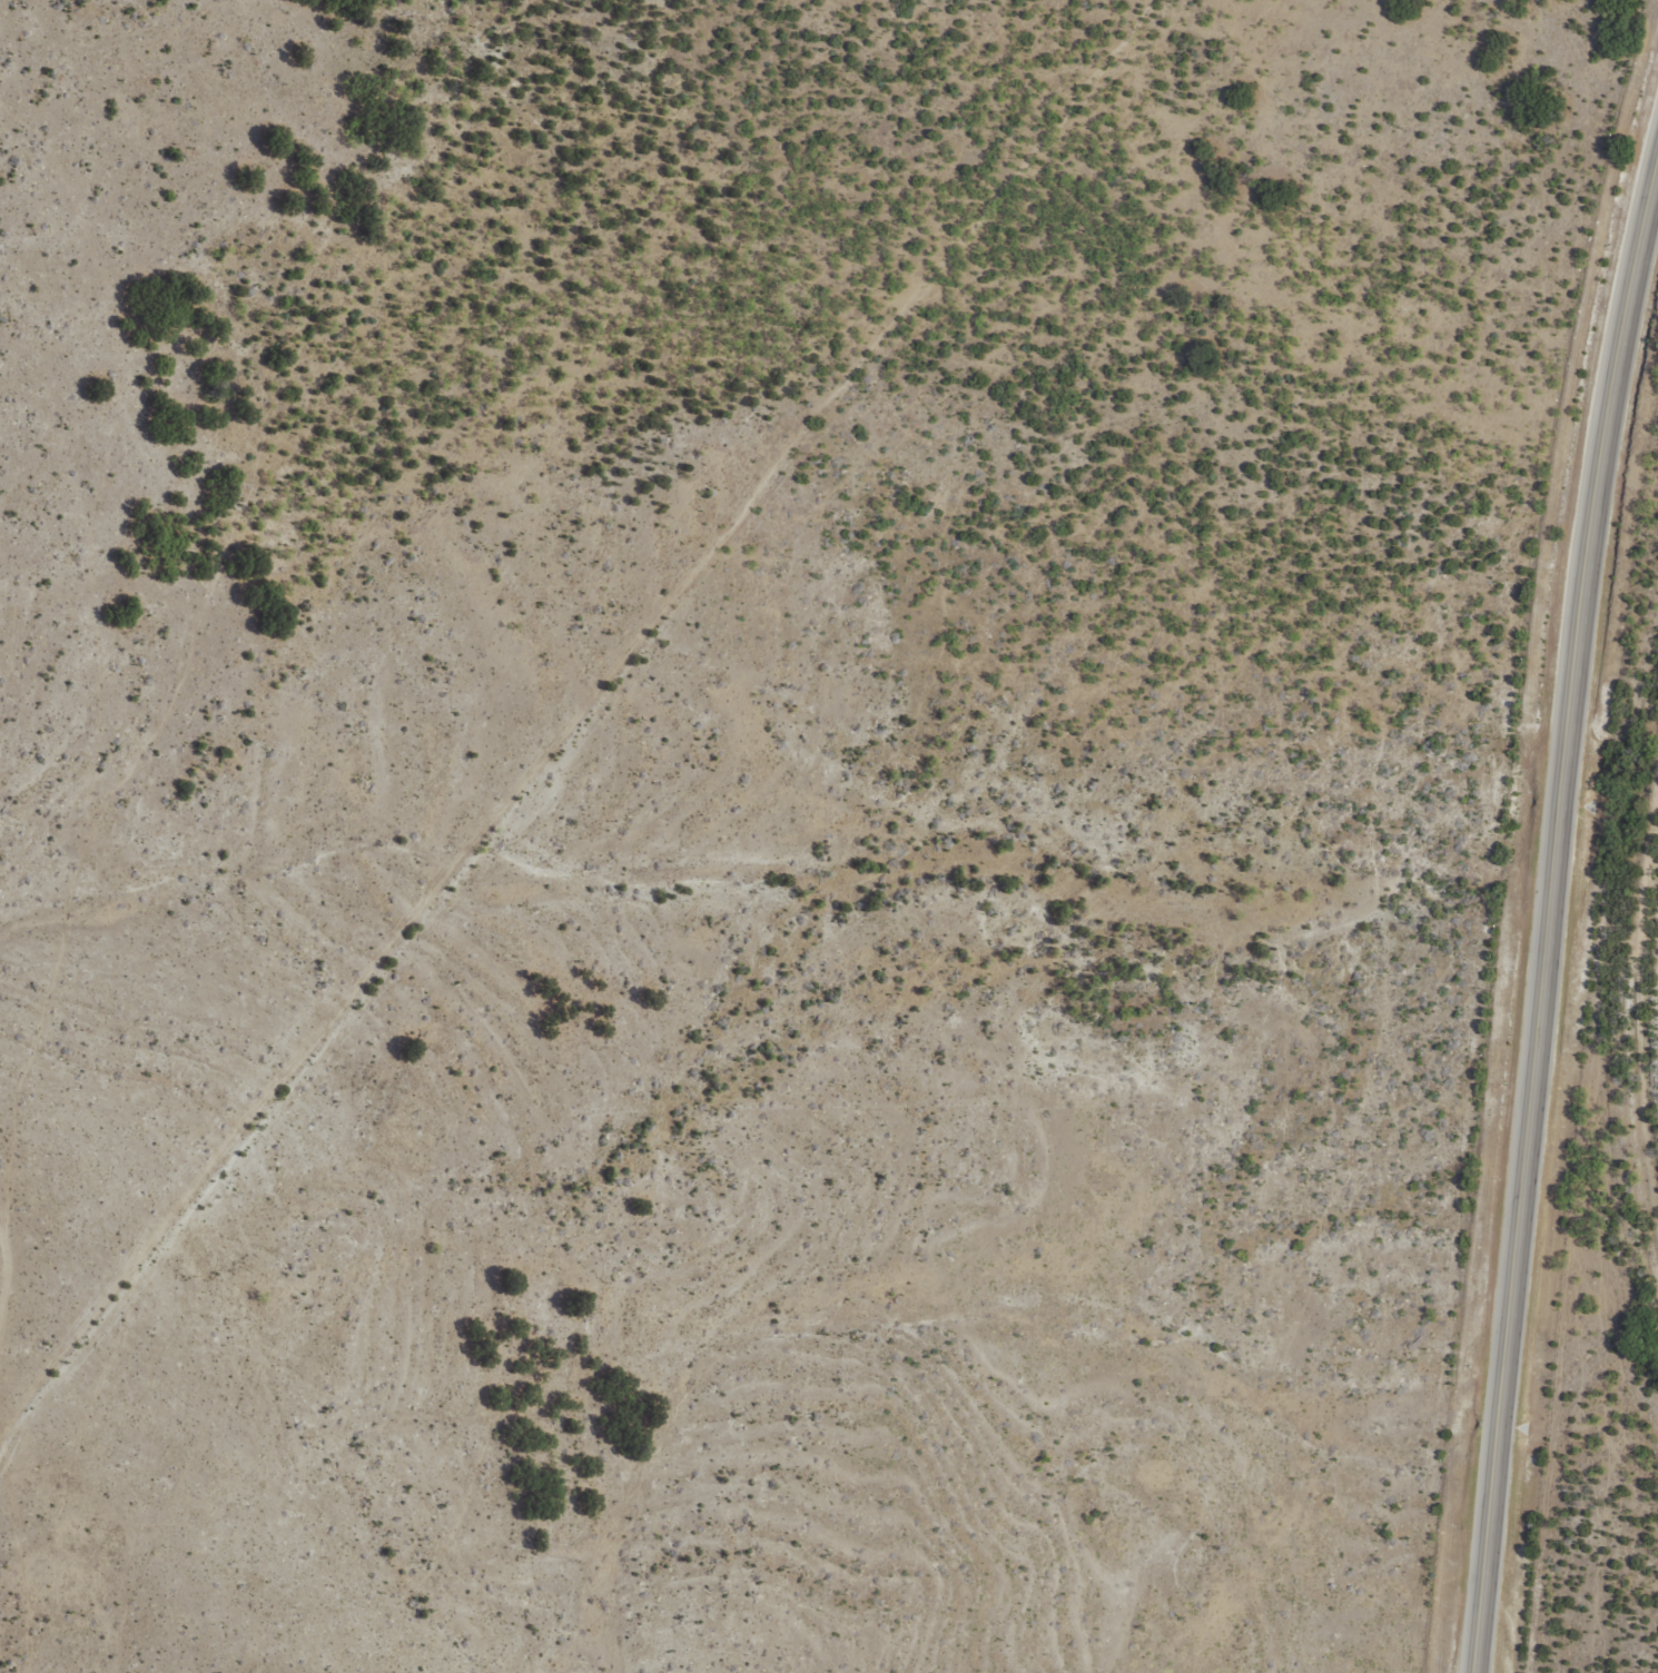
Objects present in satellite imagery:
road: (584, 735)
road: (1552, 929)
road: (8, 1323)

